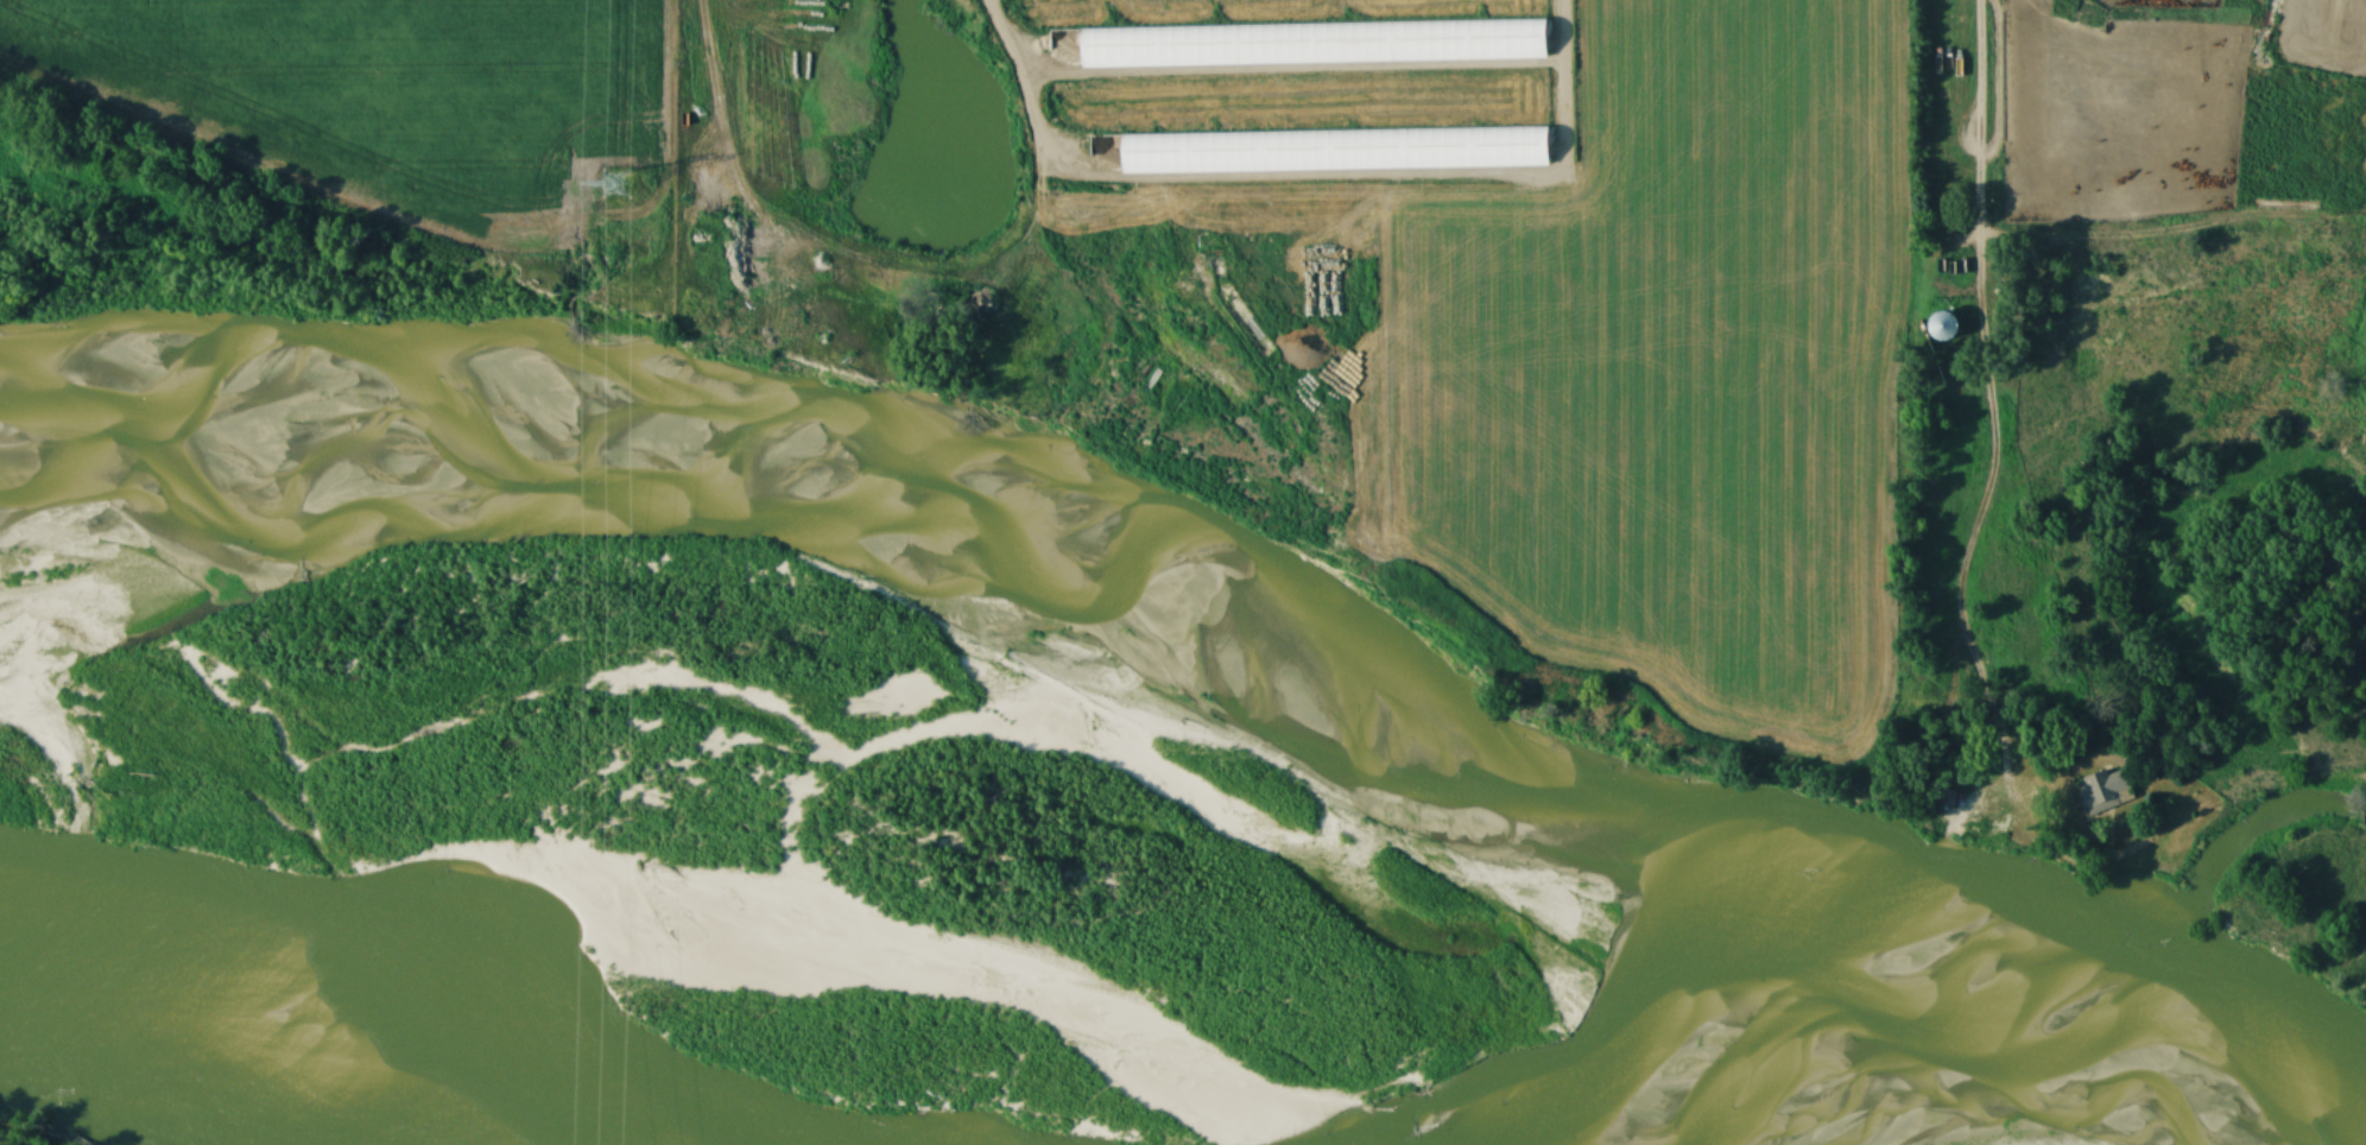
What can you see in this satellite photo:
power tower: (613, 188)
building: (1942, 325)
road: (1986, 397)
building: (2096, 793)
road: (2062, 833)
river: (2191, 926)
river: (483, 957)

